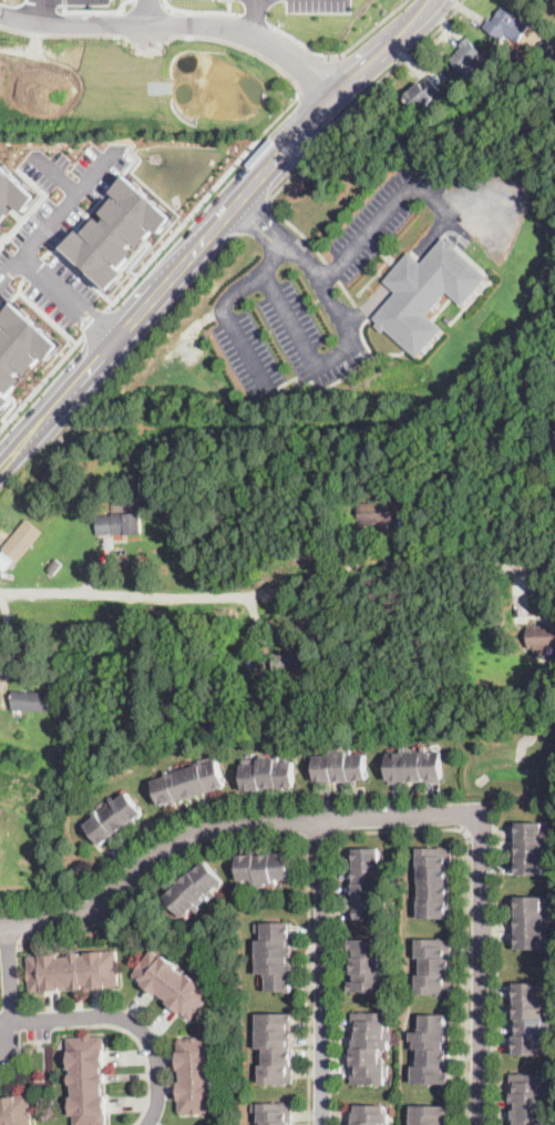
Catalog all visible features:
parking lot: (260, 0)
parking lot: (318, 6)
road: (229, 7)
road: (199, 11)
road: (42, 12)
road: (148, 12)
road: (255, 17)
road: (255, 19)
road: (177, 25)
building: (506, 25)
road: (369, 29)
road: (63, 34)
road: (144, 37)
road: (300, 41)
building: (470, 61)
road: (315, 73)
building: (518, 83)
road: (359, 94)
building: (422, 94)
building: (479, 115)
road: (254, 143)
road: (54, 173)
building: (13, 192)
parking lot: (487, 208)
road: (56, 212)
road: (379, 213)
road: (251, 215)
parking lot: (380, 217)
road: (507, 218)
road: (296, 226)
parking lot: (58, 228)
road: (212, 228)
building: (116, 229)
road: (430, 235)
road: (78, 270)
road: (401, 272)
road: (317, 274)
building: (428, 295)
road: (68, 297)
road: (222, 309)
road: (41, 310)
building: (449, 318)
road: (94, 321)
road: (146, 336)
parking lot: (308, 338)
road: (189, 340)
building: (19, 347)
road: (306, 352)
parking lot: (247, 354)
parking lot: (187, 365)
road: (42, 383)
building: (377, 511)
building: (120, 524)
building: (19, 544)
building: (64, 558)
building: (53, 566)
road: (278, 587)
building: (542, 638)
building: (289, 662)
building: (539, 689)
building: (31, 702)
building: (340, 767)
building: (414, 767)
building: (268, 775)
building: (189, 784)
building: (114, 819)
road: (227, 824)
road: (287, 831)
road: (317, 835)
building: (531, 848)
building: (264, 868)
building: (434, 881)
building: (367, 883)
building: (72, 890)
building: (194, 890)
road: (464, 910)
building: (531, 922)
road: (9, 941)
building: (277, 954)
building: (368, 965)
building: (433, 967)
road: (481, 968)
road: (9, 971)
road: (321, 971)
building: (73, 972)
building: (172, 982)
building: (531, 1017)
road: (120, 1019)
road: (105, 1022)
building: (275, 1046)
building: (370, 1046)
building: (431, 1050)
building: (196, 1075)
building: (88, 1080)
building: (530, 1098)
building: (16, 1111)
building: (276, 1113)
building: (371, 1114)
building: (429, 1114)

